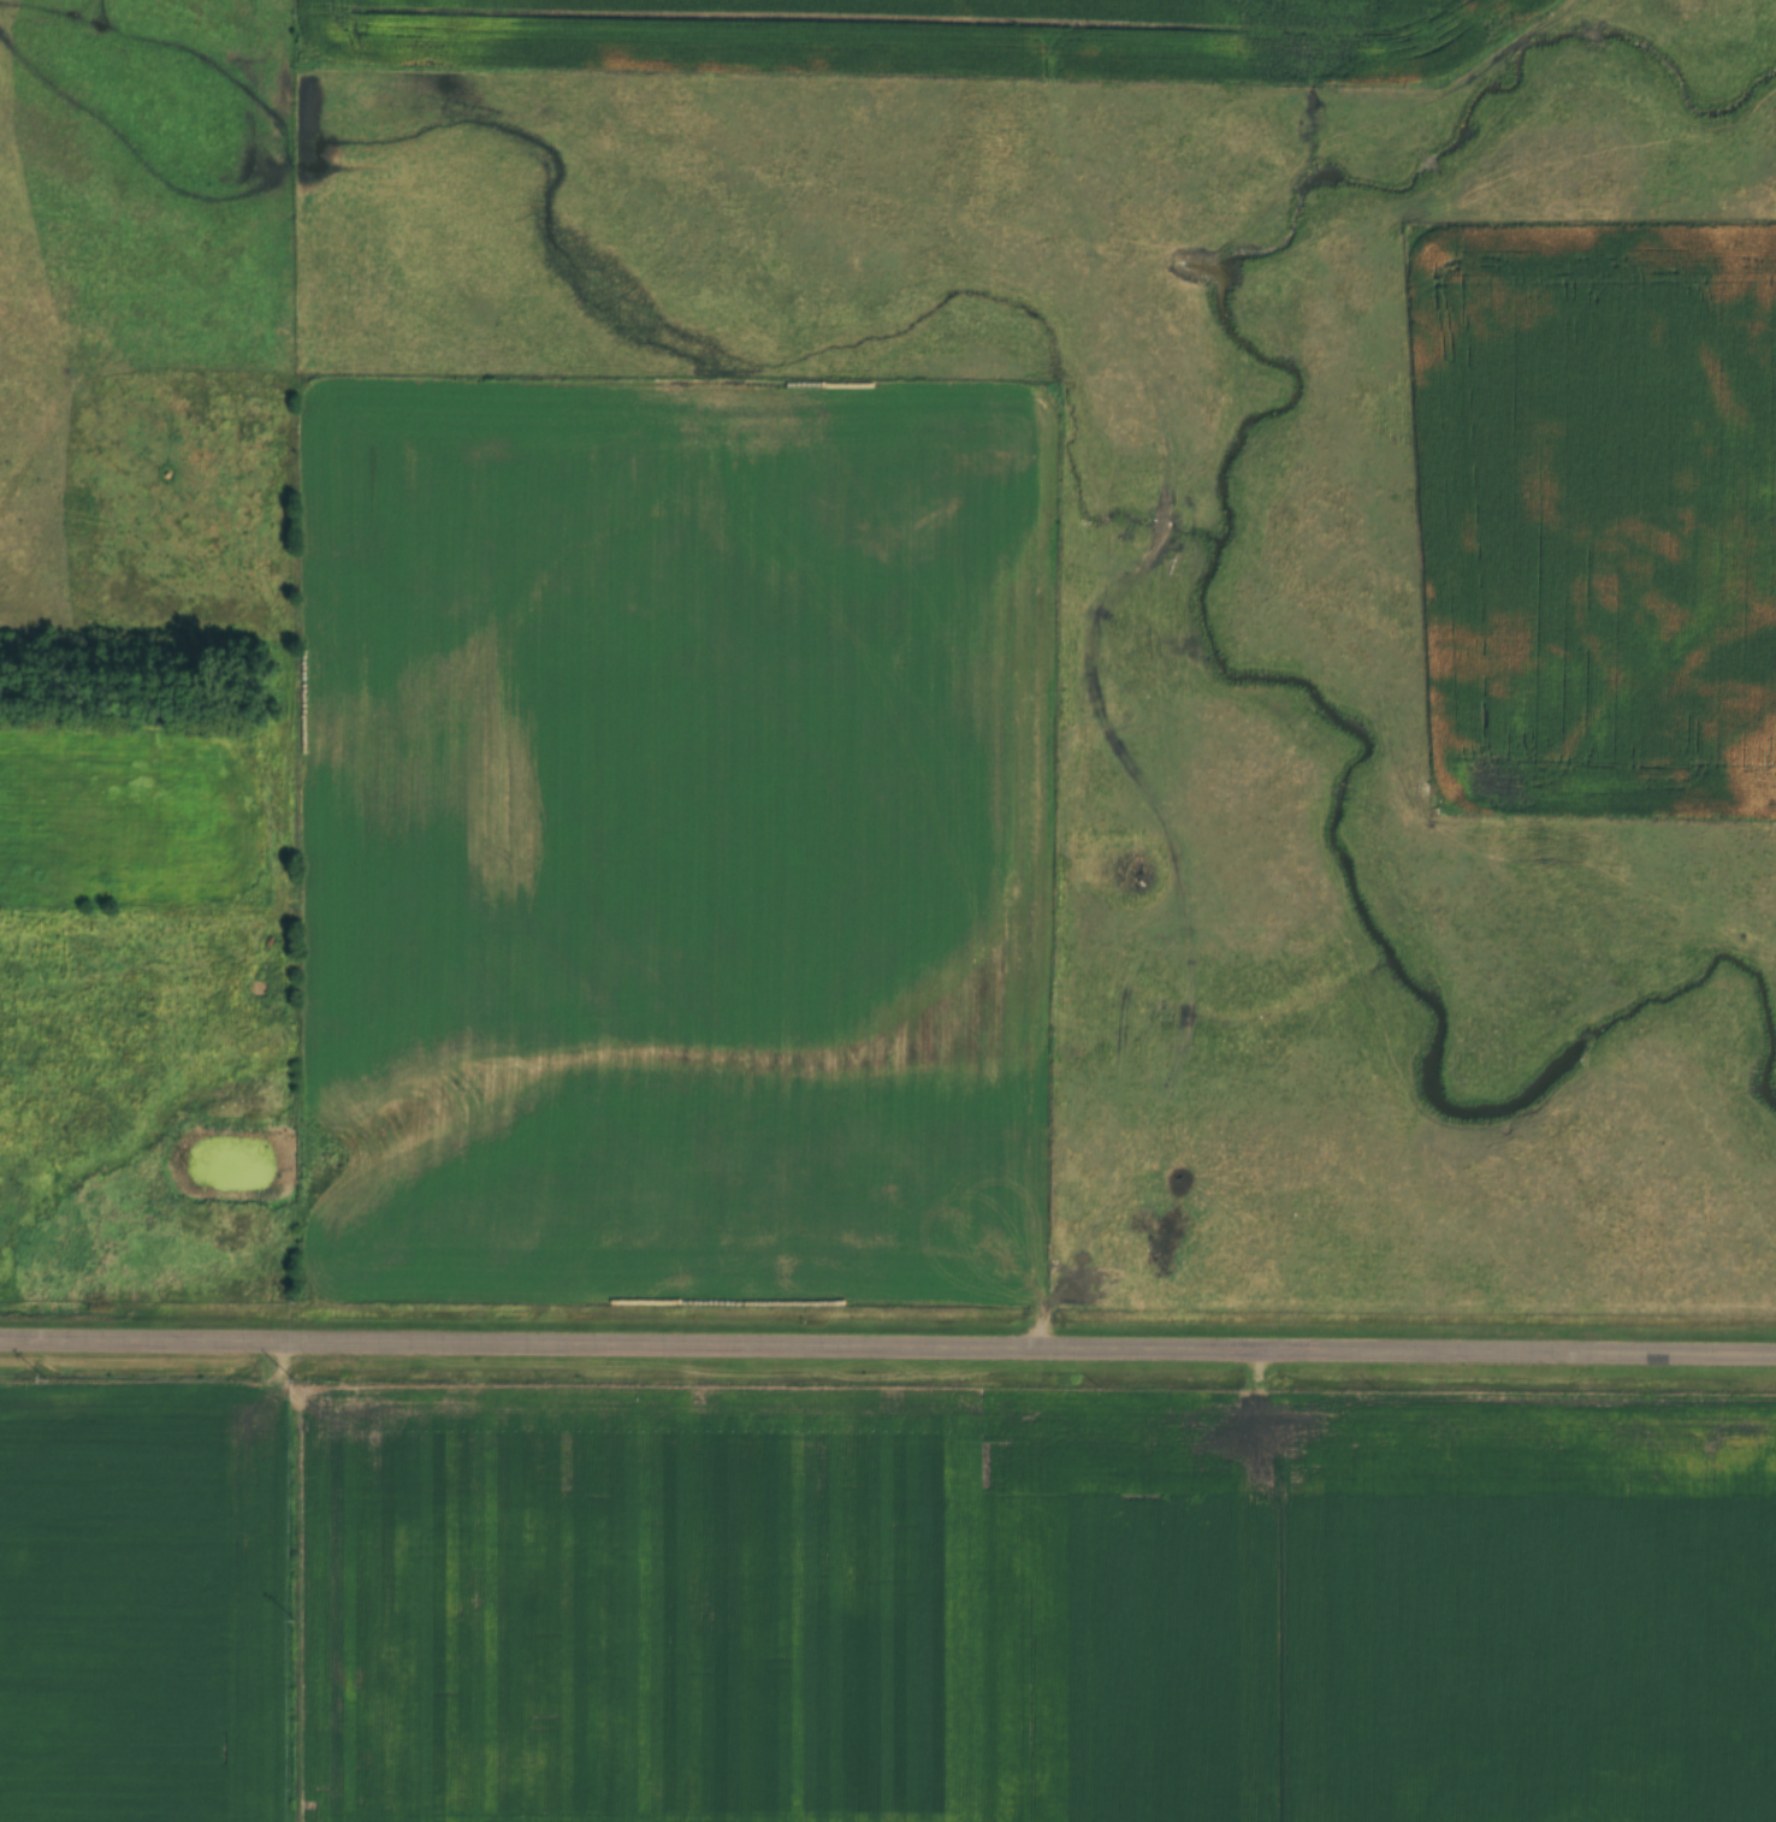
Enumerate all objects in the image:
road: (887, 1353)

